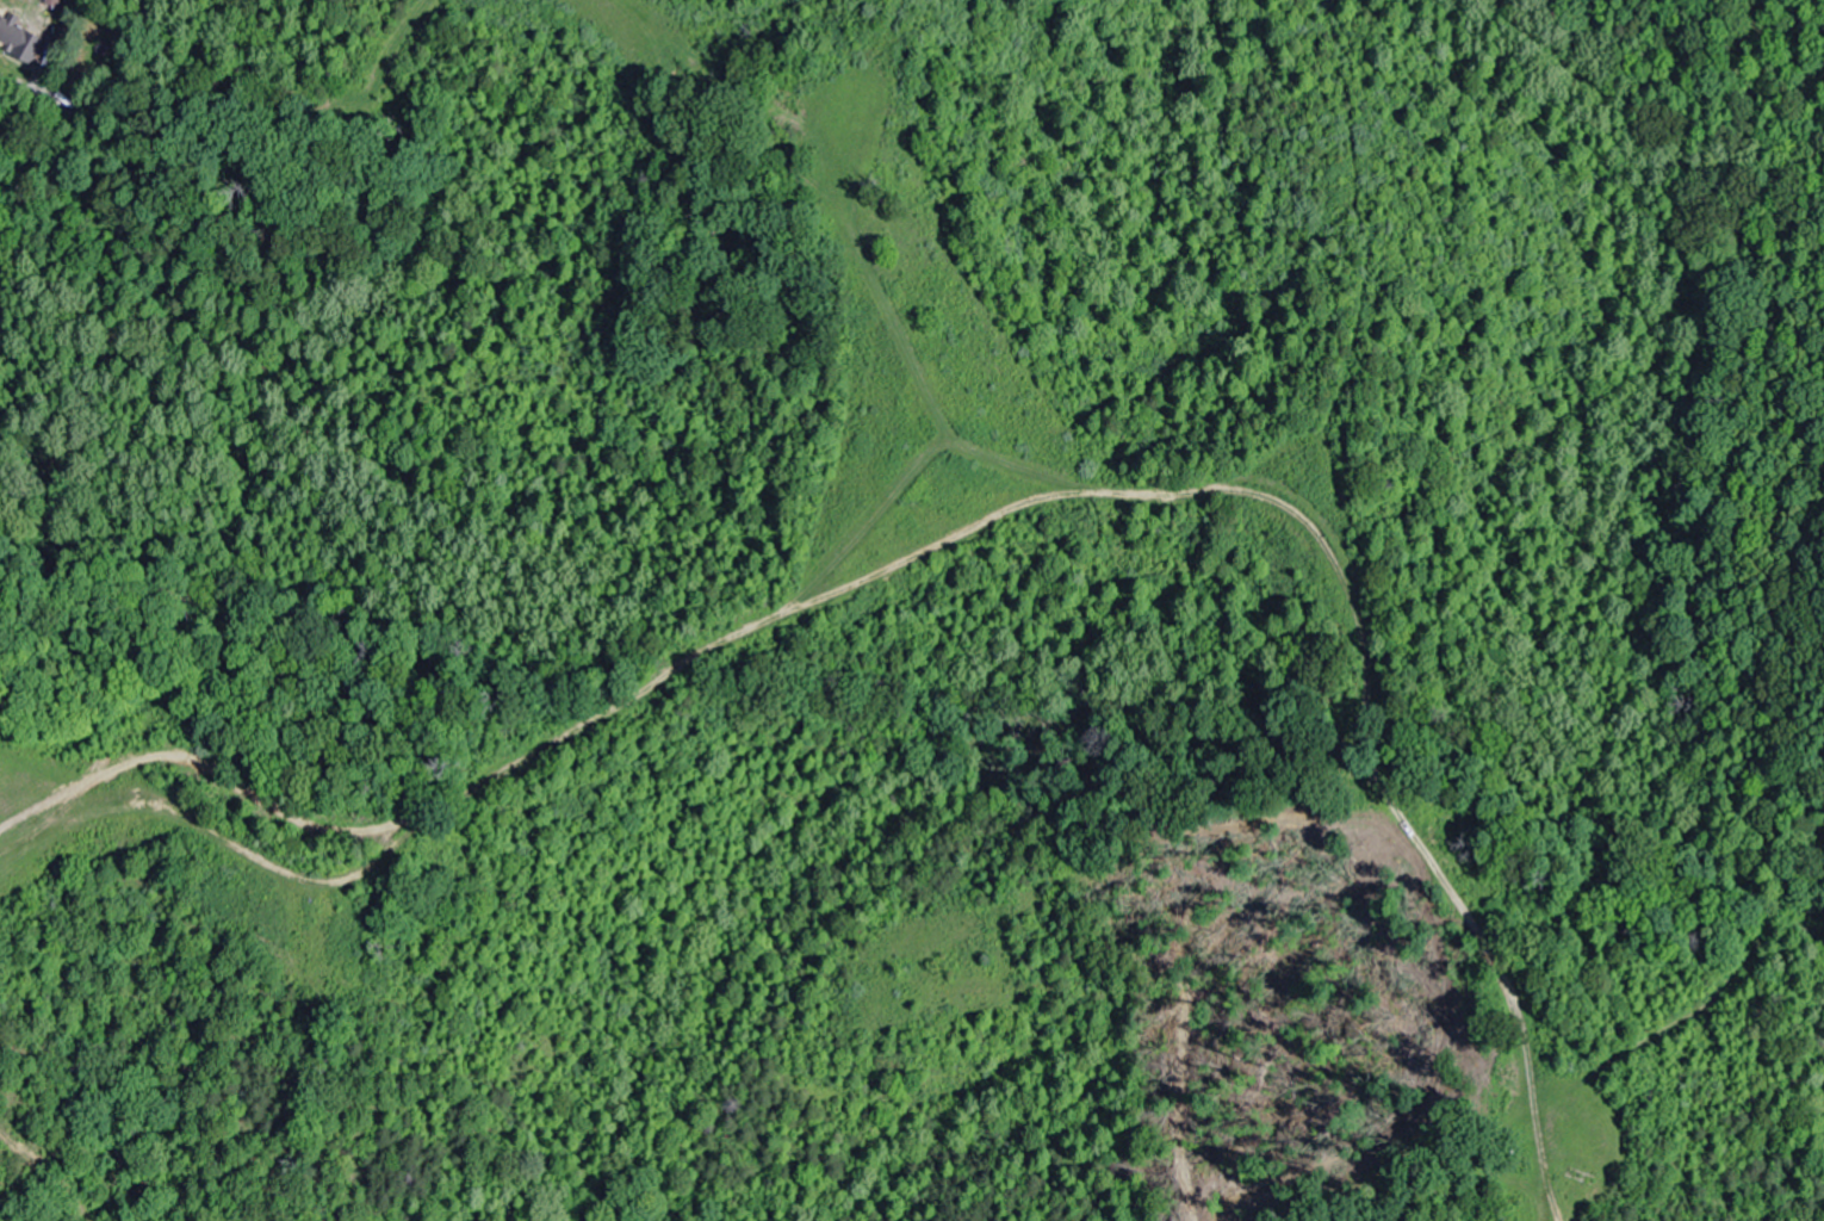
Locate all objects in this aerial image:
road: (184, 190)

